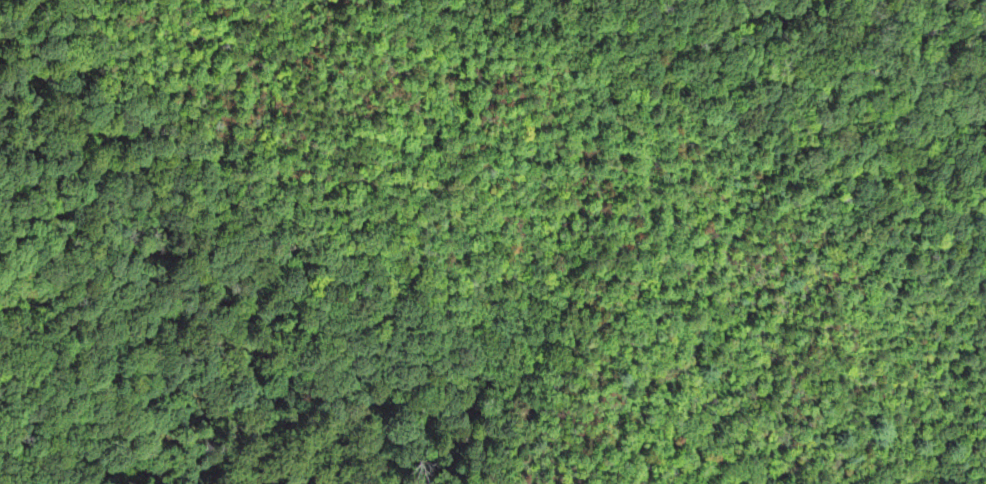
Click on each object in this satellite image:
road: (457, 416)

